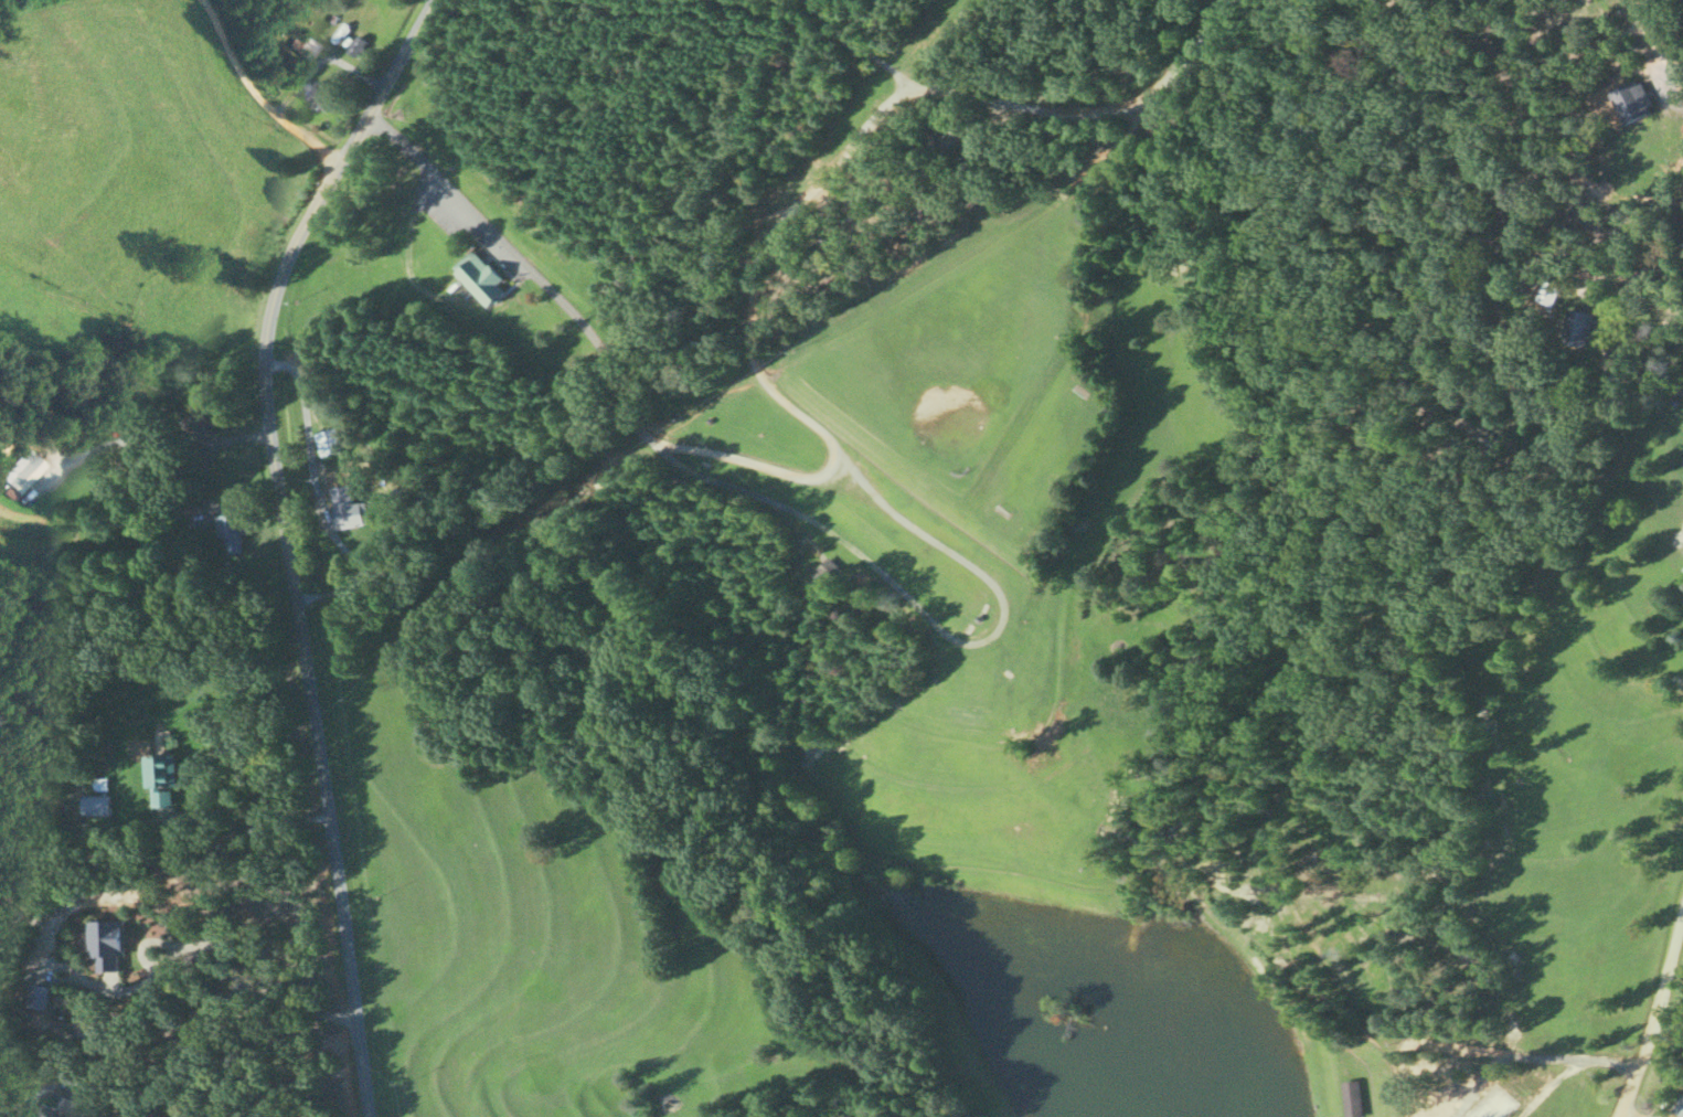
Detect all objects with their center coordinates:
road: (1655, 44)
building: (305, 45)
building: (358, 45)
road: (853, 46)
building: (1119, 56)
road: (257, 92)
building: (322, 96)
building: (1632, 102)
road: (873, 120)
building: (948, 137)
building: (824, 240)
building: (479, 276)
building: (1549, 291)
building: (1580, 326)
road: (588, 332)
building: (331, 439)
building: (23, 474)
building: (351, 514)
building: (231, 529)
road: (283, 540)
building: (821, 574)
building: (160, 776)
building: (95, 804)
building: (105, 942)
road: (230, 947)
building: (36, 994)
road: (1652, 1011)
road: (1506, 1056)
road: (1611, 1060)
road: (1548, 1084)
building: (1349, 1098)
building: (58, 1108)

